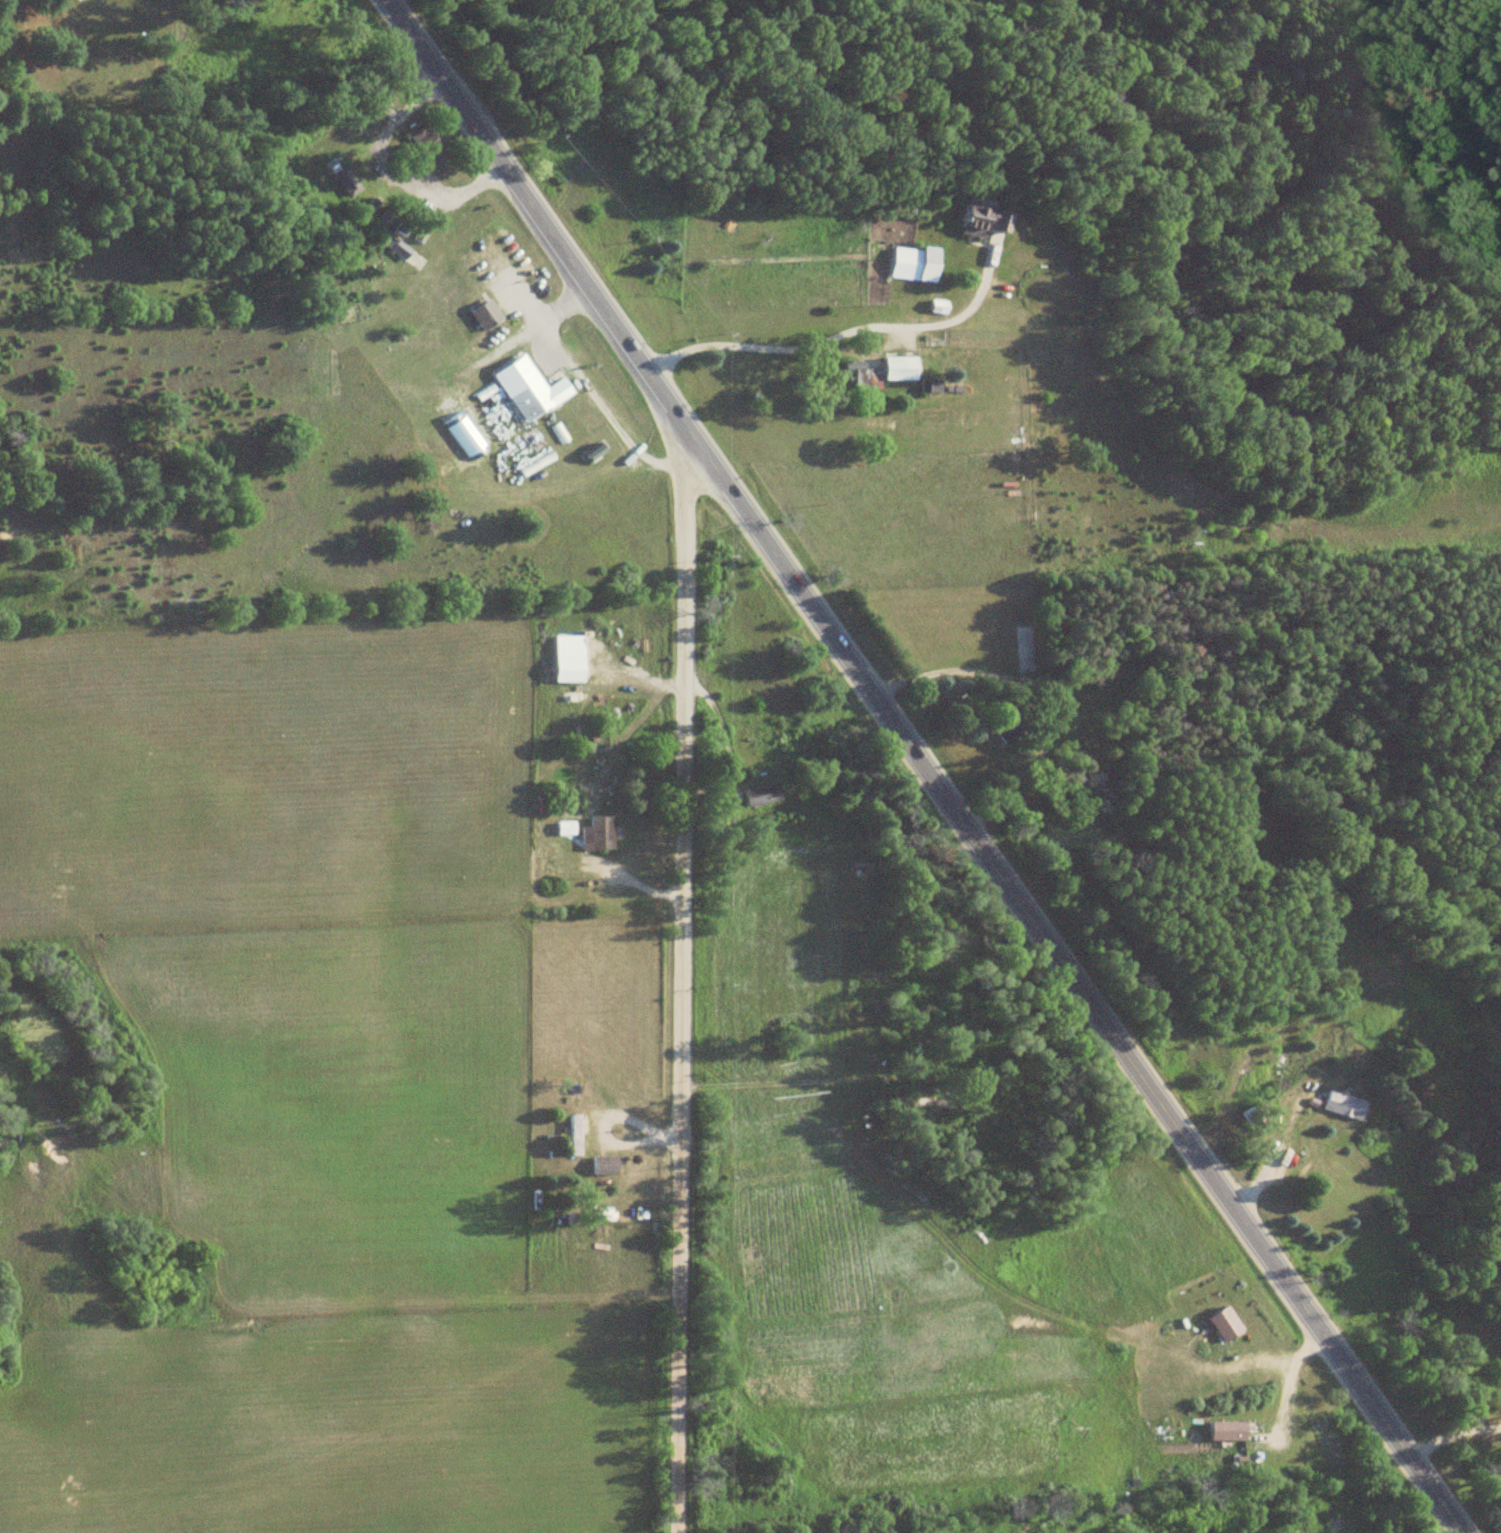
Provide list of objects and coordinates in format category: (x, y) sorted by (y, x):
building: (427, 145)
building: (982, 218)
building: (916, 264)
building: (486, 315)
building: (901, 369)
building: (865, 372)
building: (530, 390)
building: (1025, 642)
building: (1006, 729)
road: (920, 767)
building: (762, 796)
building: (600, 833)
road: (670, 978)
building: (1345, 1105)
building: (575, 1134)
building: (605, 1165)
road: (1451, 1432)

